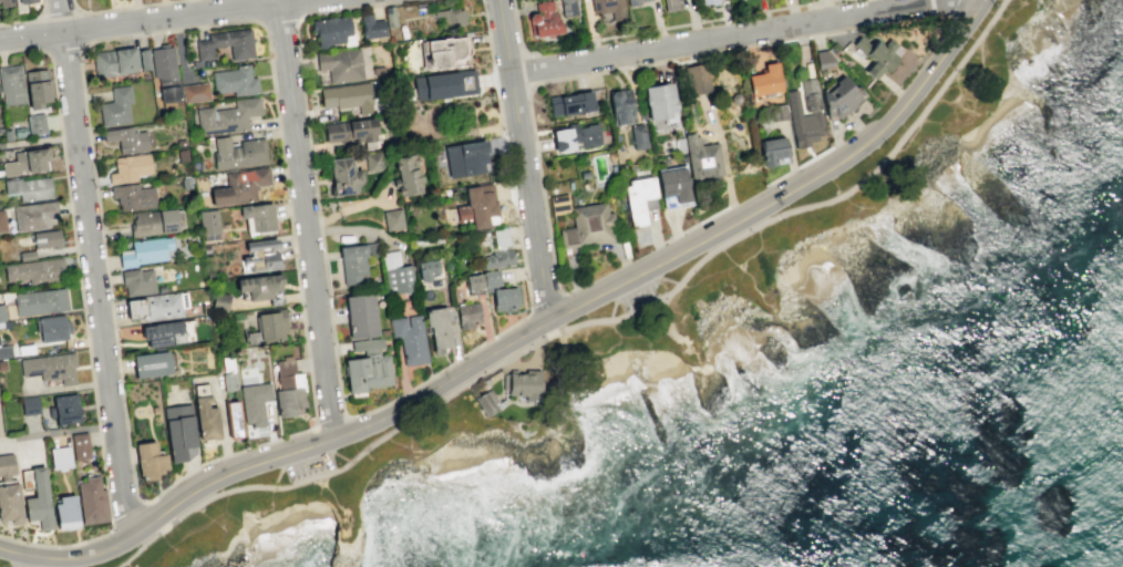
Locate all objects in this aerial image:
building: (24, 1)
building: (708, 1)
building: (632, 2)
building: (6, 3)
building: (670, 3)
road: (124, 7)
building: (568, 7)
building: (608, 7)
building: (390, 16)
building: (450, 17)
road: (152, 19)
road: (28, 20)
building: (544, 20)
building: (371, 27)
road: (646, 30)
building: (332, 31)
road: (721, 35)
road: (81, 43)
building: (226, 44)
building: (446, 51)
building: (876, 54)
building: (143, 59)
building: (824, 59)
building: (114, 61)
building: (340, 64)
road: (523, 69)
building: (377, 70)
building: (165, 72)
building: (697, 78)
building: (235, 80)
building: (764, 80)
building: (444, 84)
building: (11, 86)
building: (37, 89)
building: (195, 92)
building: (810, 94)
building: (347, 95)
building: (842, 95)
building: (659, 101)
building: (569, 102)
building: (115, 106)
building: (620, 106)
building: (779, 111)
building: (227, 116)
building: (803, 122)
building: (35, 125)
building: (350, 130)
building: (20, 133)
building: (575, 136)
building: (638, 136)
building: (126, 138)
road: (39, 142)
park: (918, 142)
building: (773, 151)
building: (238, 152)
building: (464, 157)
road: (524, 157)
building: (702, 157)
building: (372, 161)
building: (34, 163)
building: (130, 167)
building: (406, 174)
building: (584, 174)
building: (343, 175)
building: (185, 183)
building: (673, 183)
building: (239, 186)
building: (34, 190)
building: (133, 196)
building: (638, 198)
building: (477, 206)
road: (346, 209)
building: (257, 216)
building: (38, 217)
building: (392, 218)
road: (306, 219)
building: (7, 220)
building: (153, 221)
building: (208, 221)
building: (587, 225)
road: (351, 230)
building: (499, 236)
building: (51, 239)
building: (144, 251)
building: (259, 256)
building: (496, 258)
building: (356, 262)
road: (93, 266)
building: (426, 268)
road: (742, 270)
building: (40, 271)
building: (396, 274)
building: (491, 279)
building: (136, 281)
building: (473, 281)
building: (258, 285)
parking lot: (640, 293)
building: (504, 298)
building: (219, 301)
building: (43, 302)
building: (156, 306)
building: (1, 312)
building: (360, 315)
building: (467, 315)
road: (589, 323)
park: (617, 323)
road: (85, 324)
road: (555, 324)
building: (268, 328)
building: (437, 328)
building: (53, 329)
building: (162, 333)
road: (521, 333)
building: (410, 338)
building: (367, 344)
building: (4, 350)
building: (150, 364)
building: (52, 369)
building: (367, 372)
building: (516, 383)
building: (288, 390)
building: (485, 403)
building: (254, 404)
building: (29, 405)
building: (64, 409)
building: (231, 419)
building: (204, 420)
building: (178, 433)
road: (51, 439)
building: (79, 447)
road: (342, 457)
building: (59, 460)
building: (148, 462)
building: (6, 466)
parking lot: (311, 466)
road: (278, 477)
building: (38, 501)
building: (92, 501)
building: (10, 502)
building: (65, 512)
park: (188, 538)
road: (2, 565)
parking lot: (20, 565)

